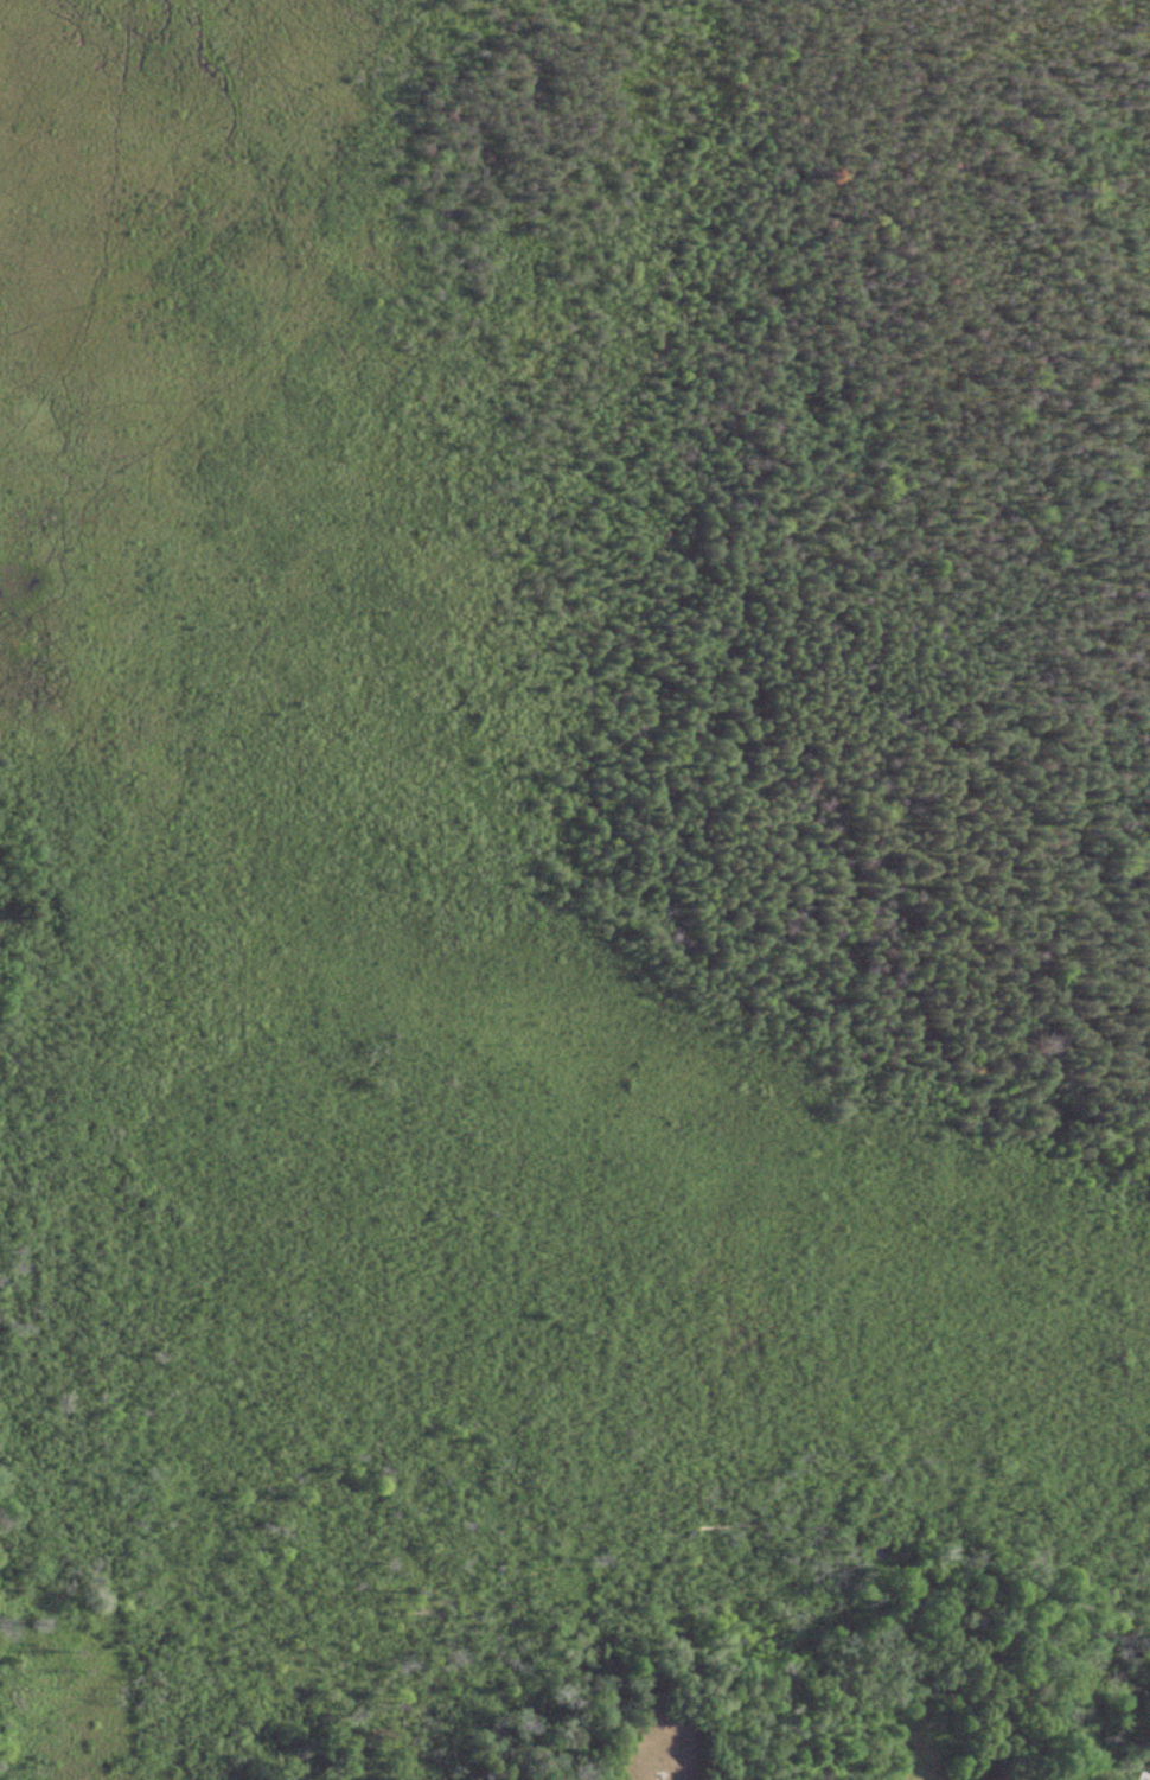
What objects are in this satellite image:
road: (404, 1590)

